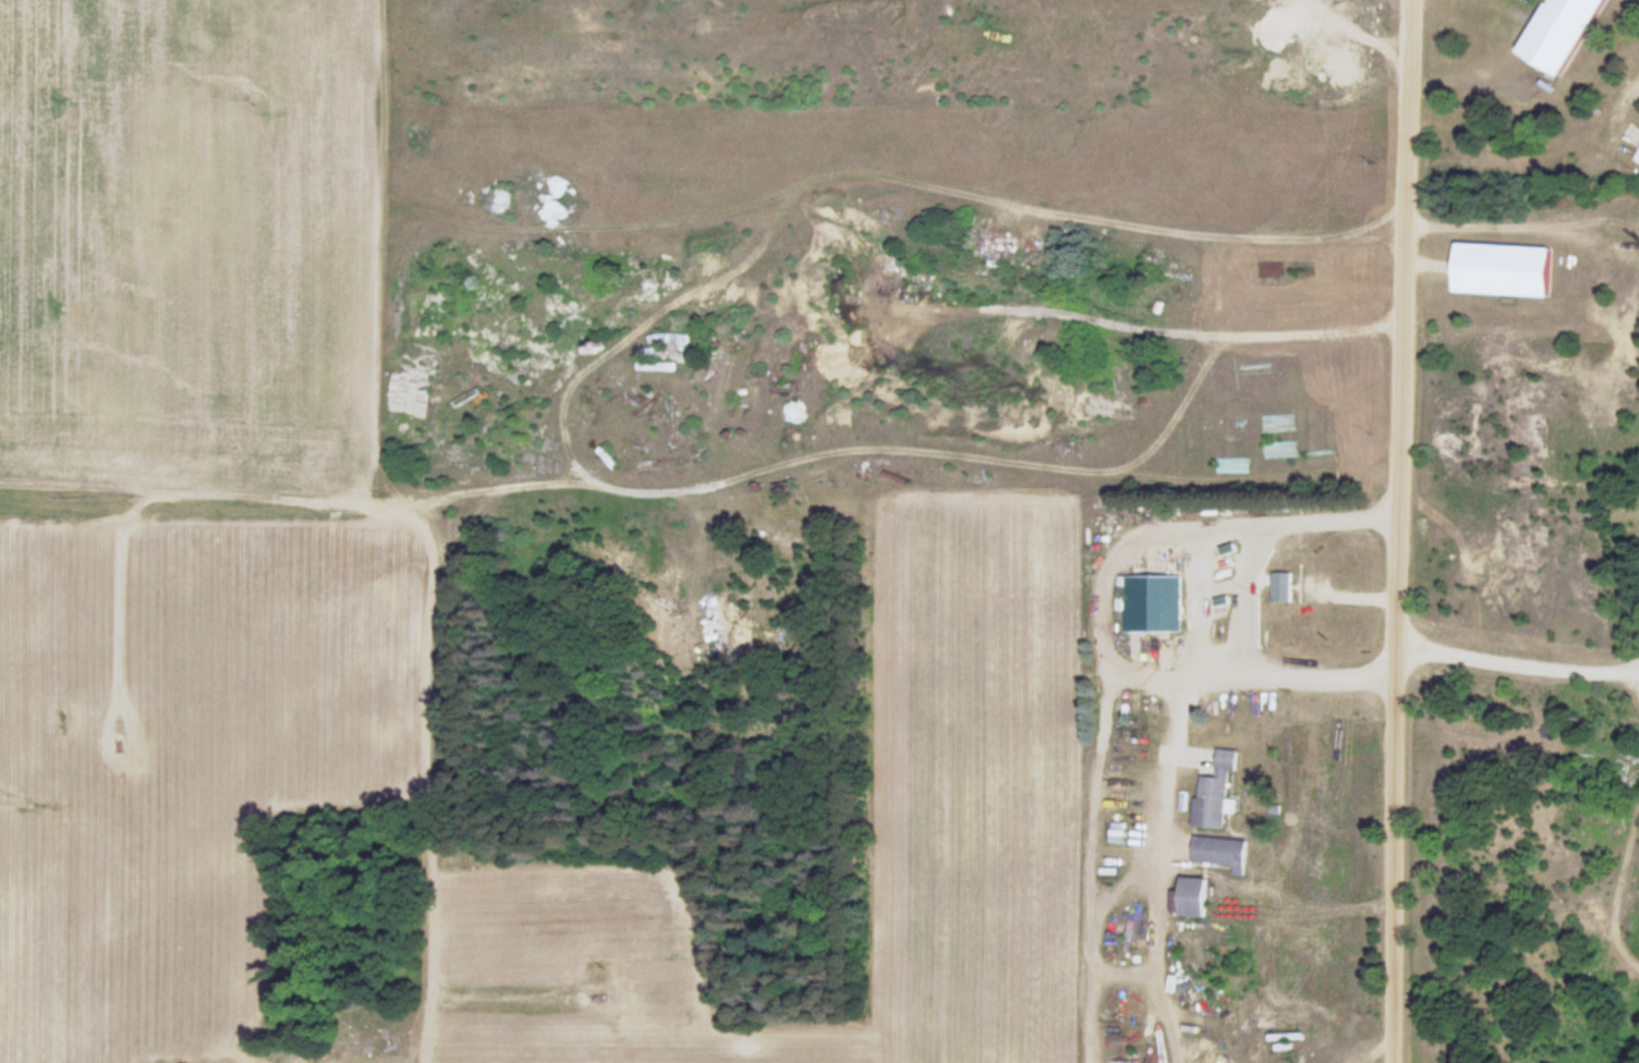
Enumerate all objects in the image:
building: (1564, 32)
building: (1637, 158)
road: (371, 246)
building: (1506, 270)
building: (1279, 450)
road: (190, 503)
road: (1392, 530)
building: (1283, 587)
building: (1153, 604)
building: (1216, 792)
building: (1224, 853)
building: (1195, 897)
building: (1124, 1009)

